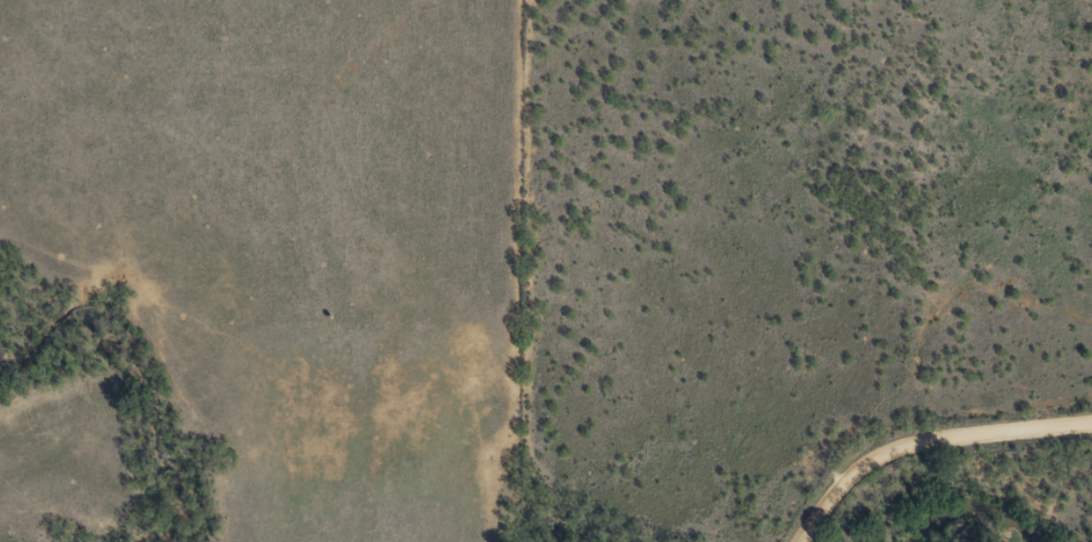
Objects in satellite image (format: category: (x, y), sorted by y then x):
road: (924, 439)

